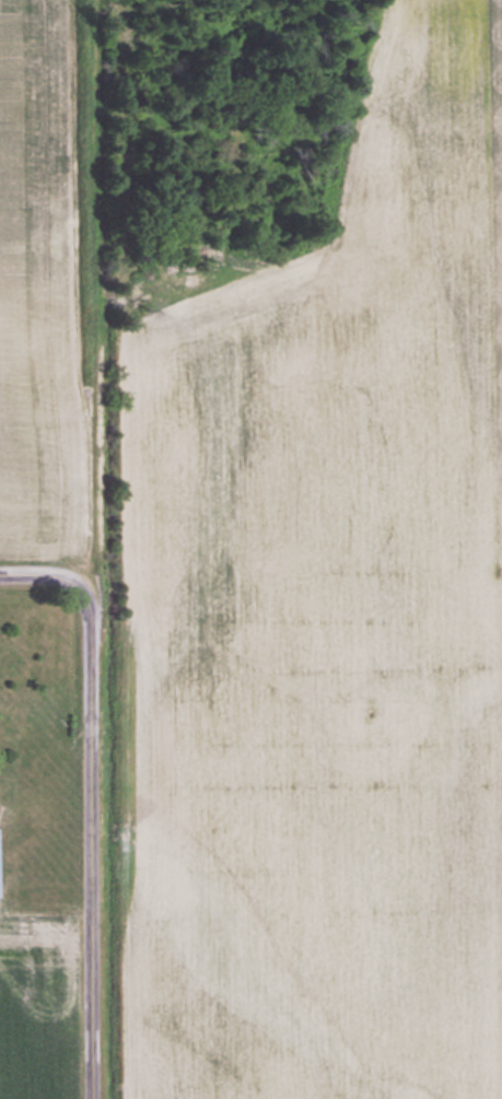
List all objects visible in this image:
road: (89, 800)

